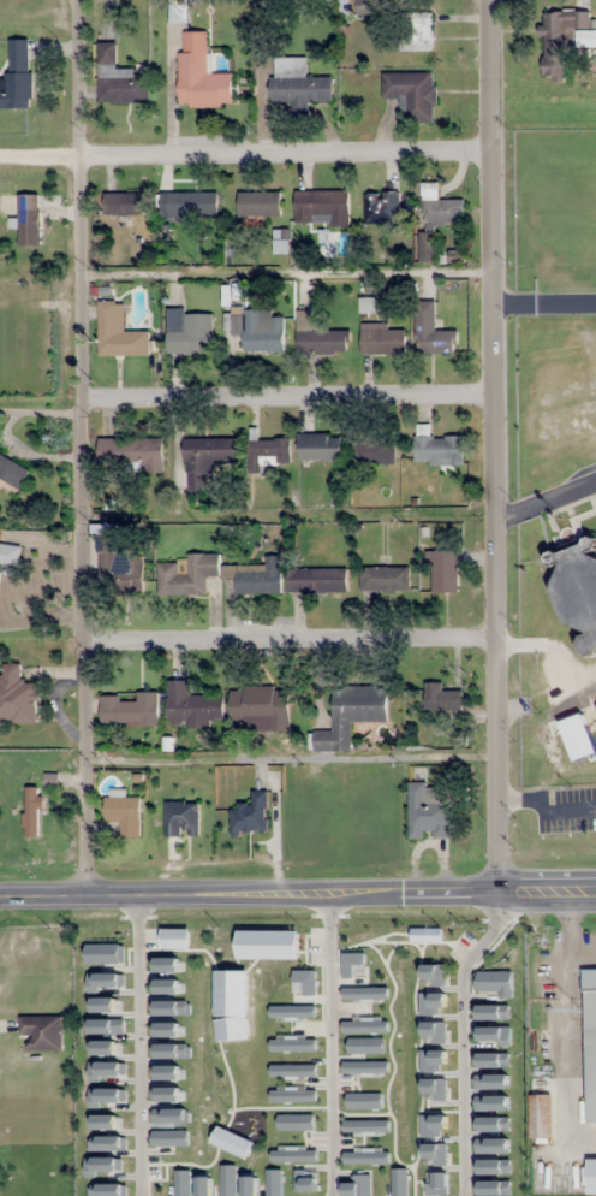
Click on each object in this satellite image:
building: (366, 6)
building: (416, 31)
building: (559, 40)
building: (199, 75)
building: (17, 76)
building: (118, 78)
building: (297, 84)
building: (412, 93)
road: (288, 155)
building: (120, 203)
building: (189, 203)
building: (258, 203)
building: (440, 207)
building: (321, 208)
building: (382, 208)
building: (29, 227)
building: (425, 247)
road: (287, 278)
road: (544, 301)
building: (257, 328)
building: (189, 331)
building: (431, 331)
building: (119, 334)
building: (318, 336)
building: (381, 339)
road: (290, 401)
building: (320, 445)
road: (495, 446)
road: (83, 448)
building: (374, 449)
building: (439, 449)
building: (267, 452)
building: (130, 454)
building: (205, 460)
building: (12, 470)
road: (546, 497)
road: (290, 520)
building: (10, 555)
building: (118, 568)
building: (445, 572)
building: (219, 575)
building: (383, 579)
building: (316, 580)
building: (578, 588)
road: (292, 644)
building: (17, 695)
building: (441, 697)
building: (258, 703)
building: (192, 705)
building: (129, 709)
building: (351, 715)
road: (291, 757)
building: (31, 811)
building: (428, 811)
building: (124, 815)
building: (250, 815)
building: (181, 818)
road: (297, 894)
building: (475, 996)
building: (42, 1031)
building: (590, 1044)
building: (540, 1117)

